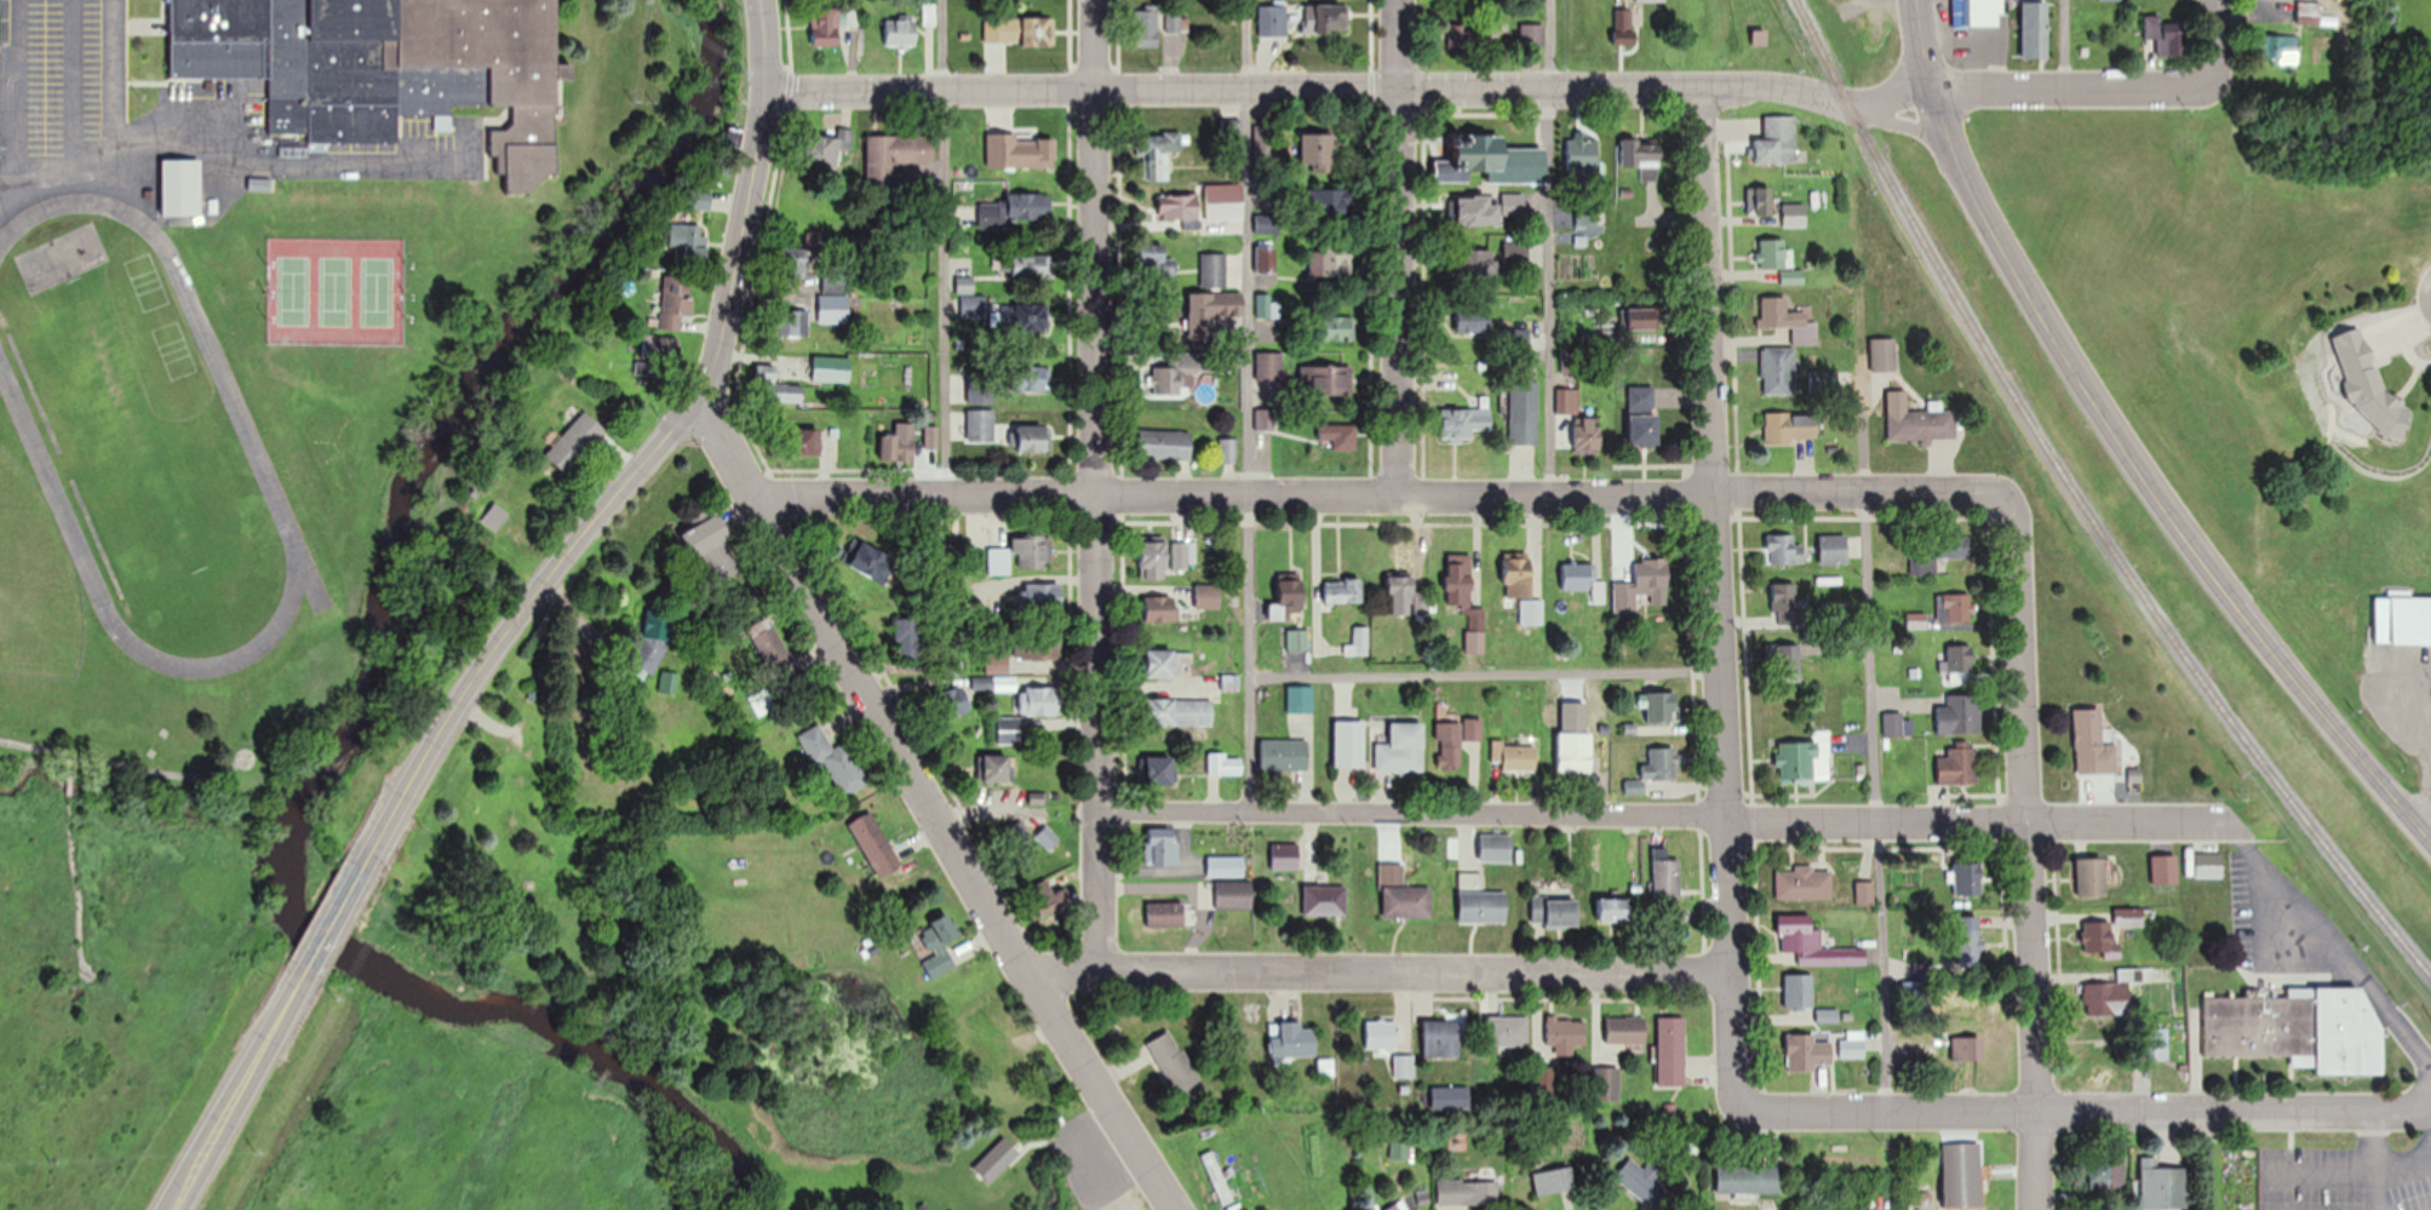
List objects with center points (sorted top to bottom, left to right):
building: (1650, 0)
building: (2109, 0)
building: (2307, 12)
building: (1985, 13)
building: (1332, 19)
building: (1272, 21)
building: (1176, 22)
building: (826, 27)
building: (1147, 27)
building: (2035, 29)
building: (1020, 31)
building: (901, 33)
building: (1532, 35)
building: (2165, 36)
road: (2066, 45)
road: (2206, 45)
building: (2278, 48)
building: (360, 55)
road: (1487, 87)
road: (70, 91)
road: (1911, 125)
building: (1777, 139)
building: (830, 147)
building: (1036, 151)
building: (1318, 153)
building: (894, 156)
building: (1158, 156)
building: (1582, 156)
building: (1644, 156)
building: (1492, 160)
road: (67, 182)
road: (8, 187)
building: (182, 187)
building: (1223, 191)
building: (699, 197)
road: (758, 200)
building: (1760, 200)
building: (1329, 205)
building: (1030, 206)
building: (1180, 207)
building: (1479, 210)
building: (1794, 214)
building: (688, 241)
road: (941, 245)
road: (1394, 246)
road: (1552, 246)
building: (1516, 253)
building: (1774, 253)
building: (1330, 263)
building: (1032, 265)
building: (1477, 265)
building: (1214, 270)
building: (1793, 276)
building: (833, 283)
park: (293, 289)
park: (334, 289)
park: (377, 291)
building: (1267, 305)
building: (833, 309)
building: (1020, 319)
building: (1474, 319)
building: (1642, 319)
building: (1789, 319)
building: (796, 322)
building: (1338, 328)
building: (1515, 340)
building: (1269, 365)
building: (832, 368)
building: (1779, 369)
building: (1181, 372)
building: (1027, 378)
building: (1326, 379)
building: (778, 389)
building: (2373, 391)
building: (1567, 401)
road: (1249, 407)
building: (1524, 413)
building: (1645, 415)
building: (1266, 418)
building: (1467, 423)
building: (1923, 423)
building: (980, 425)
building: (1791, 425)
building: (1589, 434)
building: (1338, 435)
road: (2111, 435)
building: (1033, 440)
building: (574, 442)
building: (804, 442)
building: (1165, 445)
building: (898, 446)
building: (1228, 451)
road: (1095, 487)
road: (1380, 492)
railway: (2075, 512)
building: (494, 517)
road: (1713, 528)
building: (705, 533)
building: (1951, 547)
building: (1784, 549)
building: (1021, 554)
building: (1923, 556)
building: (1156, 557)
building: (870, 560)
building: (1583, 579)
building: (1458, 584)
building: (1644, 585)
building: (1523, 587)
building: (1343, 590)
building: (1043, 593)
building: (1209, 595)
building: (1291, 595)
building: (1407, 596)
building: (1784, 602)
building: (1162, 606)
building: (1954, 607)
road: (516, 619)
building: (2408, 619)
building: (1917, 620)
building: (1477, 633)
building: (911, 636)
building: (1298, 638)
building: (767, 640)
building: (1359, 641)
building: (1037, 643)
building: (997, 661)
building: (1170, 661)
building: (1784, 661)
building: (1957, 661)
road: (1484, 673)
building: (1231, 682)
building: (1300, 698)
building: (952, 699)
building: (1038, 699)
building: (1659, 705)
building: (1179, 710)
building: (1957, 715)
building: (1473, 728)
building: (1008, 729)
road: (1874, 729)
building: (1351, 741)
building: (1449, 742)
building: (2093, 742)
building: (1403, 747)
building: (1579, 751)
building: (1284, 753)
building: (1515, 755)
building: (833, 758)
building: (1802, 758)
building: (1658, 763)
building: (1957, 764)
building: (998, 767)
building: (1157, 769)
road: (929, 804)
road: (1586, 815)
road: (2419, 818)
road: (2419, 831)
building: (875, 843)
building: (1163, 845)
building: (1495, 845)
road: (2023, 849)
building: (1285, 855)
building: (1226, 865)
building: (1663, 873)
building: (2091, 876)
building: (1965, 877)
building: (1800, 882)
building: (1860, 891)
building: (1234, 894)
building: (1044, 898)
building: (1324, 899)
building: (1406, 900)
building: (1481, 905)
building: (1611, 907)
building: (1554, 910)
building: (1168, 913)
road: (328, 924)
building: (1967, 936)
building: (2098, 940)
building: (1810, 941)
building: (935, 945)
road: (2330, 945)
road: (1372, 973)
building: (1795, 990)
building: (2298, 1027)
building: (1623, 1028)
building: (1504, 1031)
building: (1563, 1031)
building: (1378, 1033)
building: (1439, 1038)
building: (994, 1039)
building: (1292, 1039)
road: (1728, 1039)
building: (1850, 1043)
building: (2152, 1043)
building: (1965, 1046)
building: (1669, 1050)
building: (1805, 1051)
building: (1175, 1063)
building: (1602, 1083)
road: (235, 1094)
building: (1447, 1096)
road: (2088, 1112)
building: (2105, 1172)
building: (1962, 1174)
building: (1219, 1177)
building: (1748, 1177)
building: (1553, 1180)
building: (1641, 1182)
building: (2160, 1185)
building: (1467, 1192)
building: (1394, 1206)

